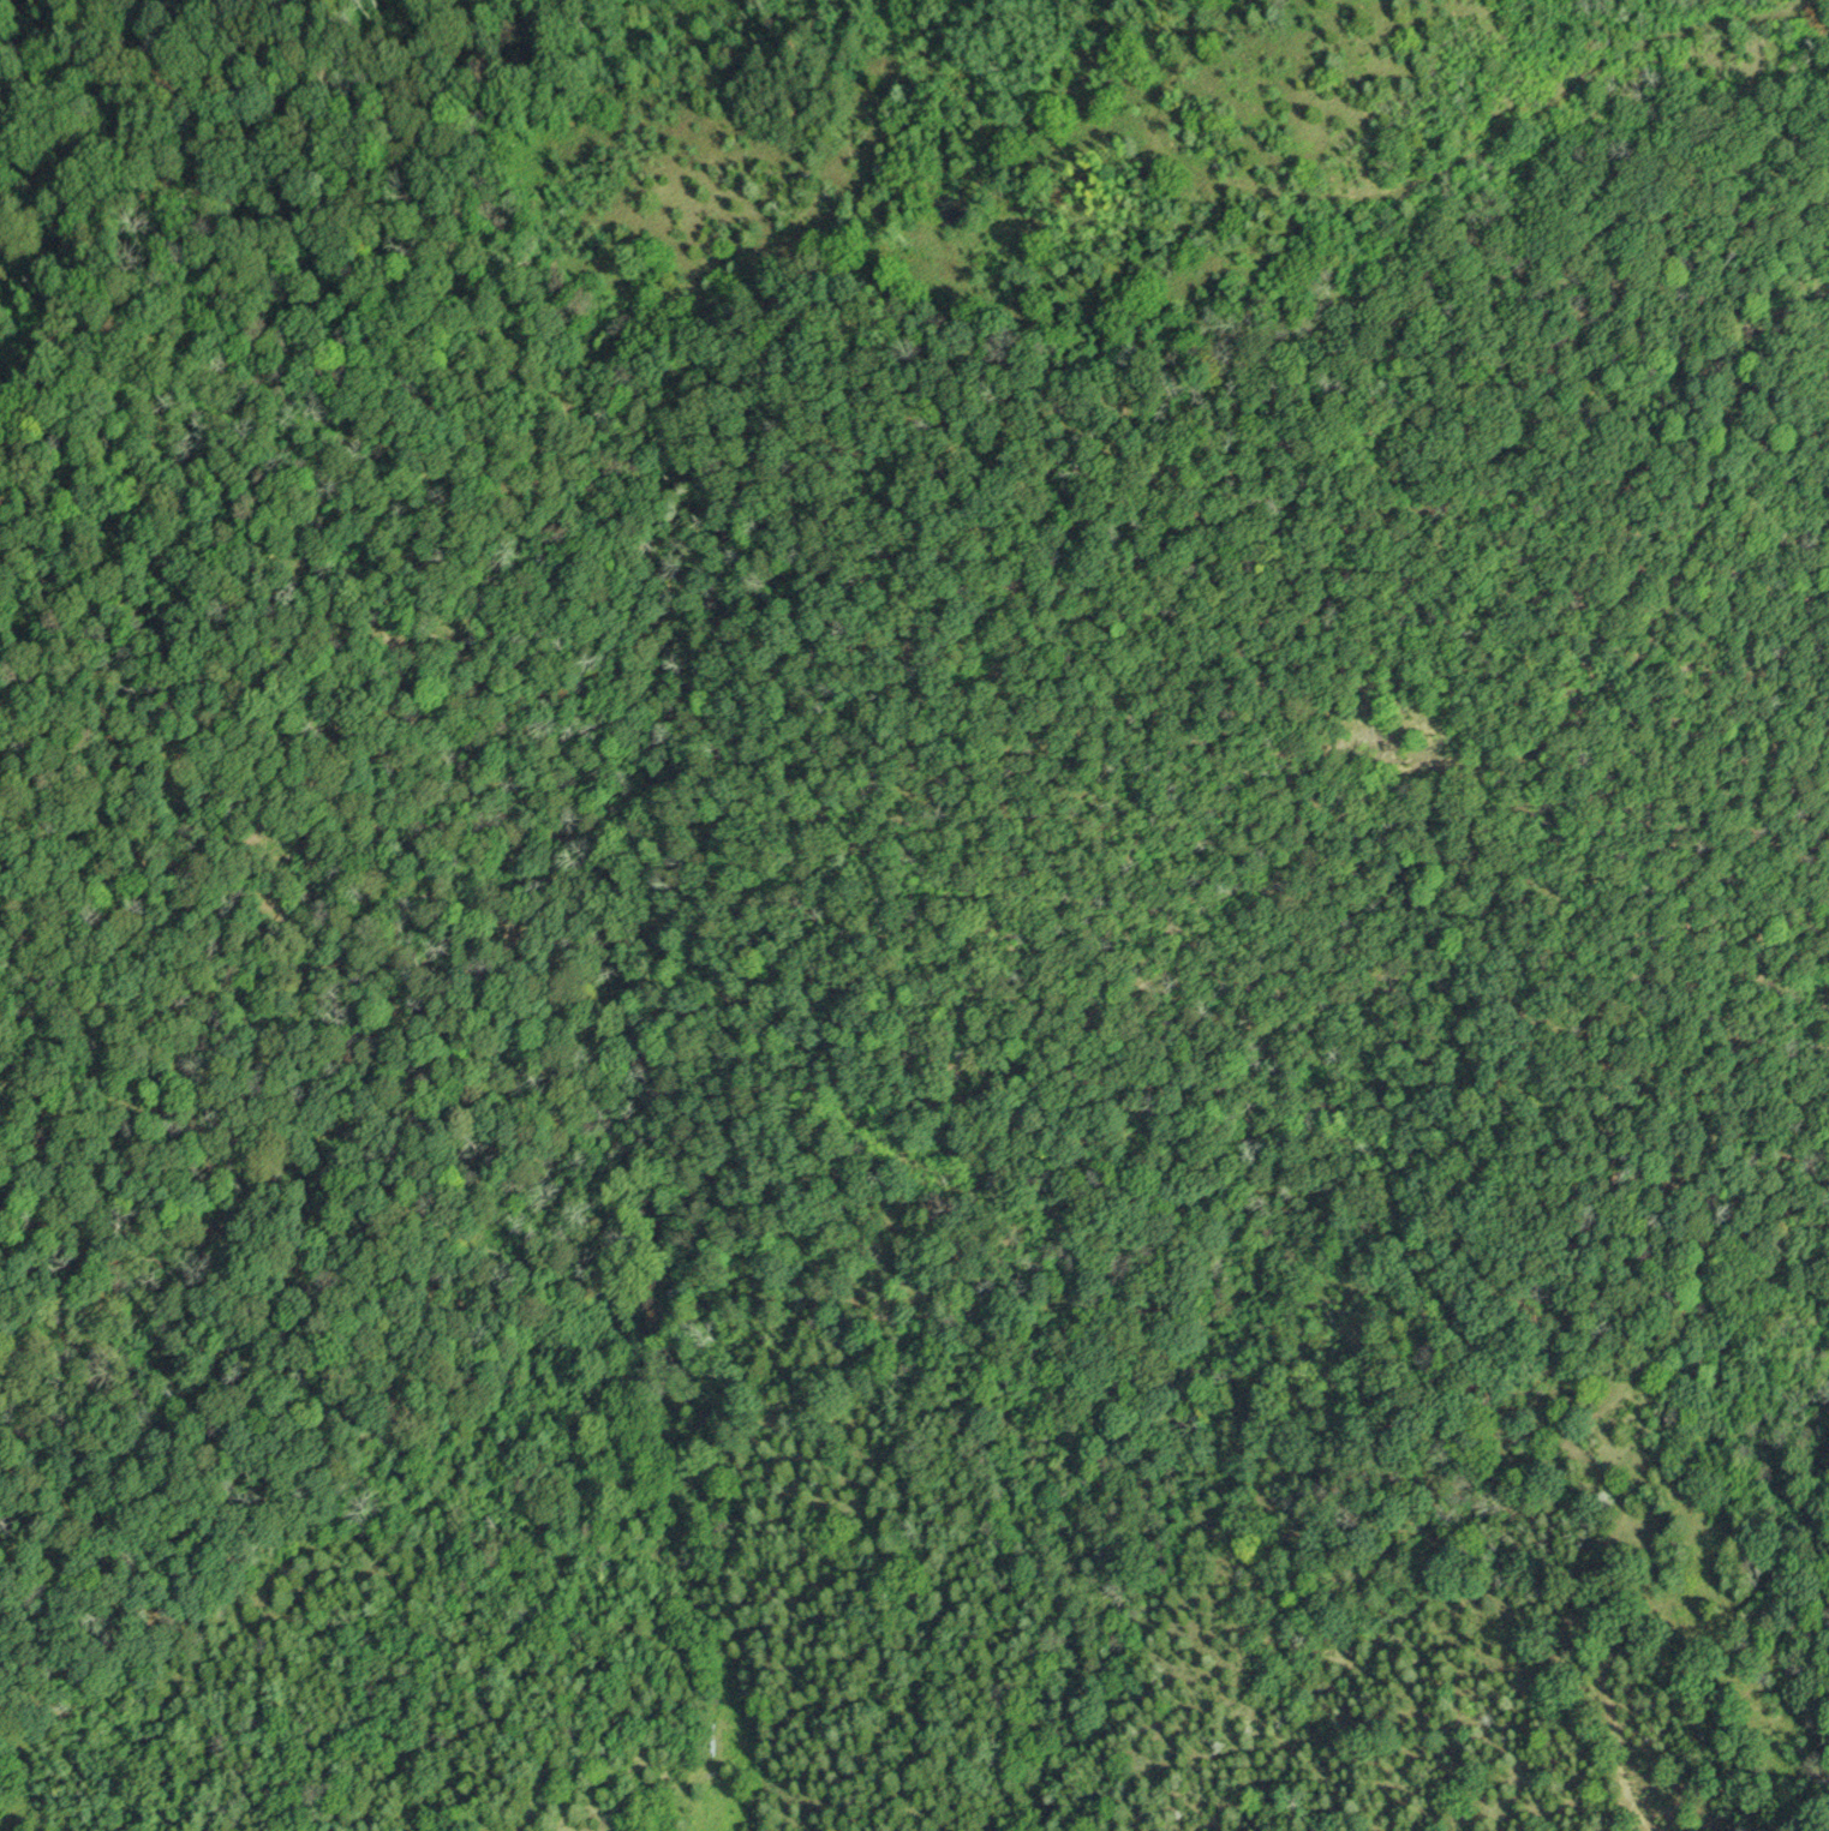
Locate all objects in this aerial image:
road: (1153, 130)

